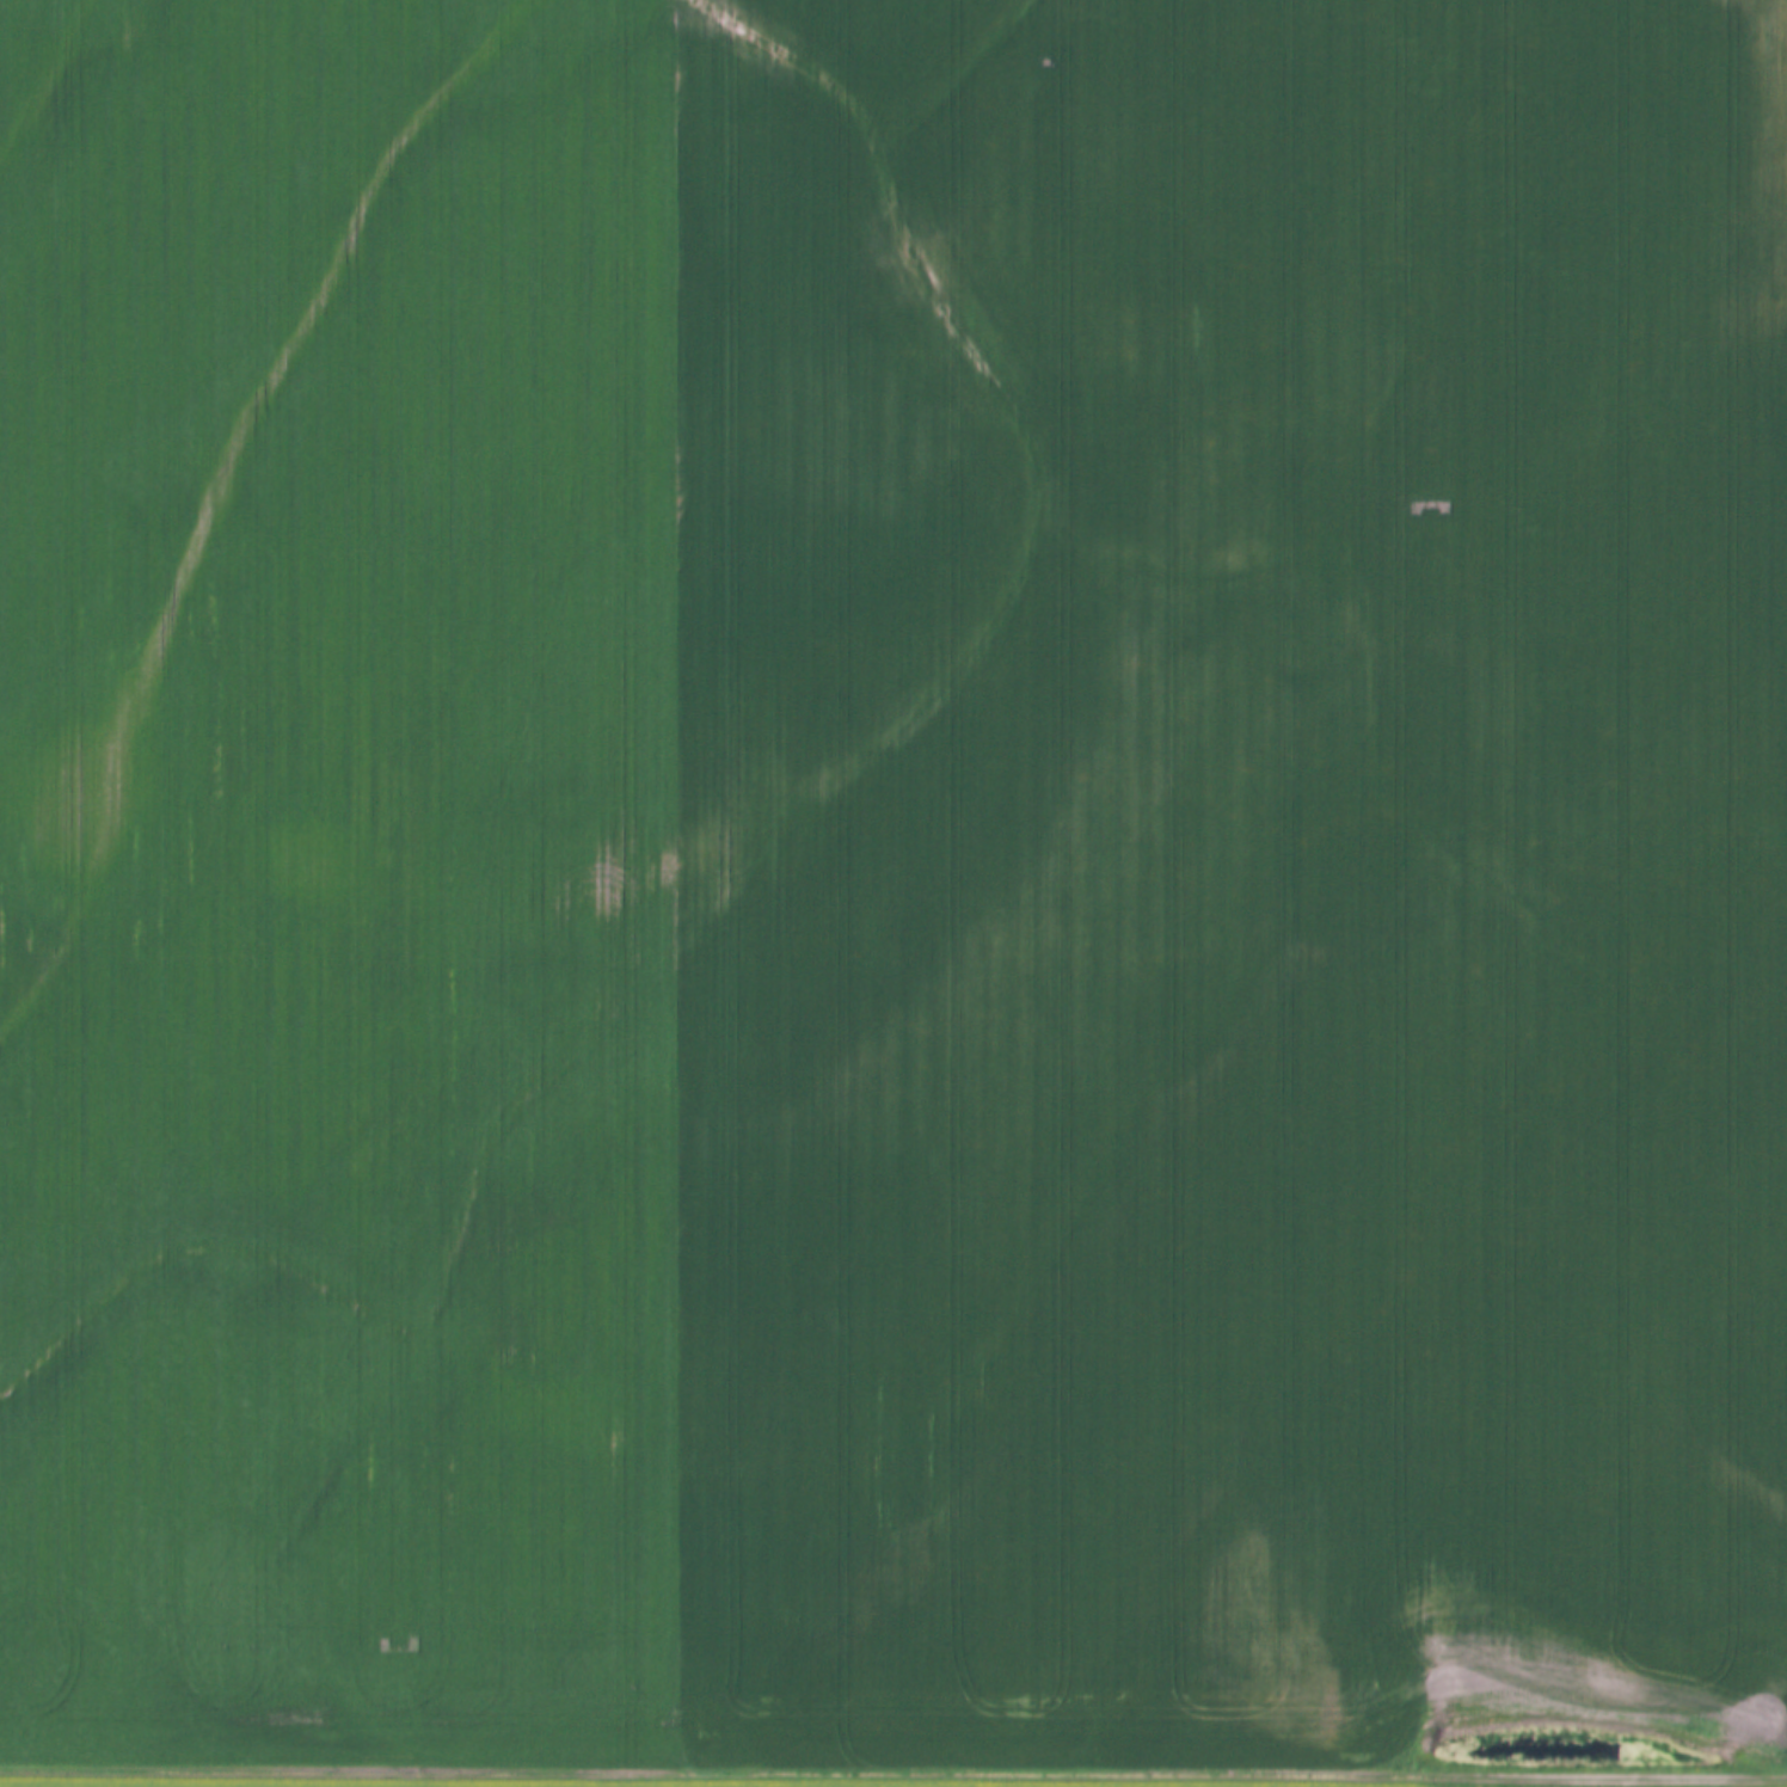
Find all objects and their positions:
road: (892, 1769)

